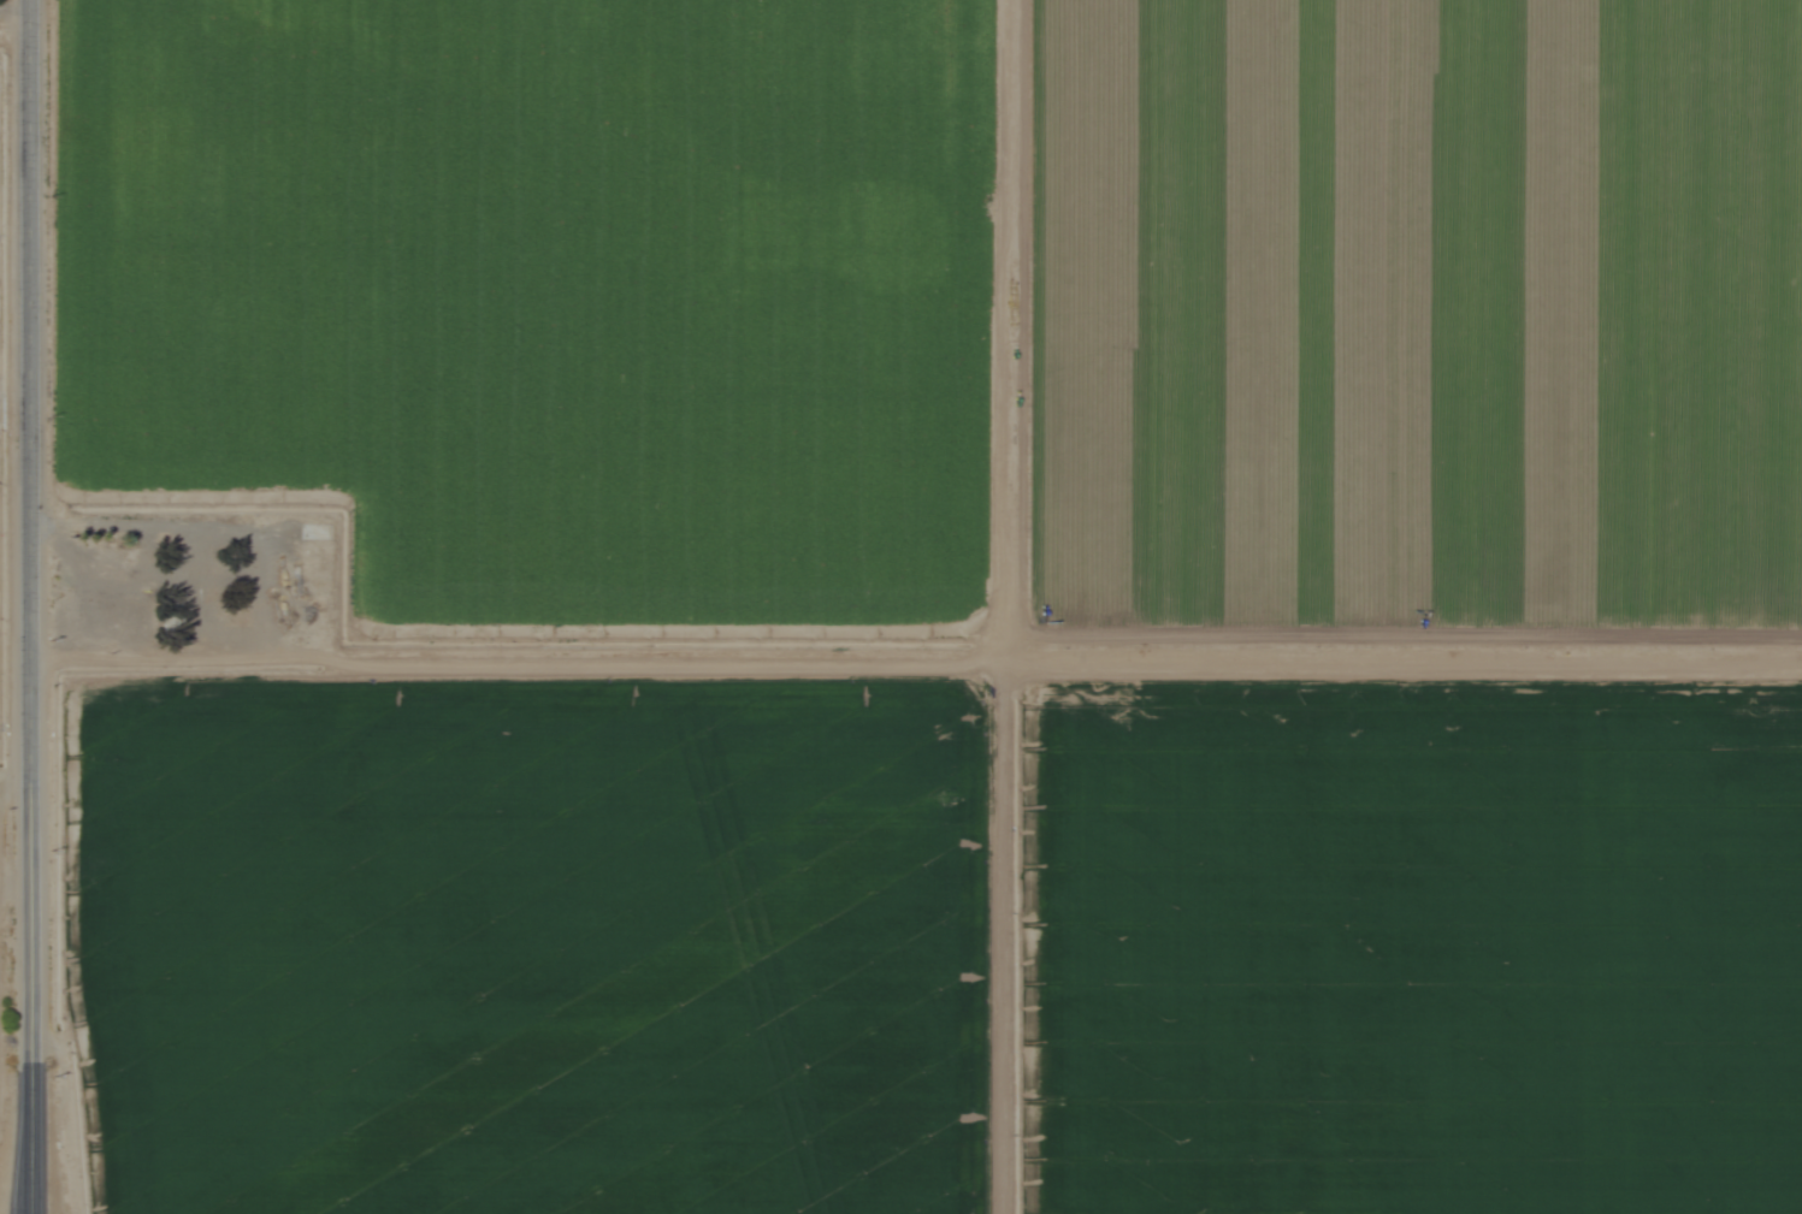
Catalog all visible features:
road: (29, 603)
road: (26, 1209)

